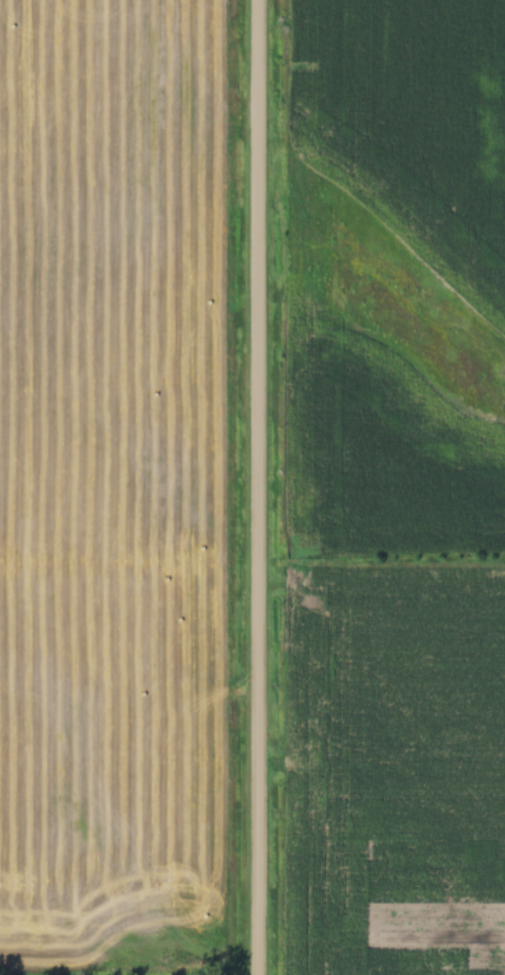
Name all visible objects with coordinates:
road: (256, 487)

